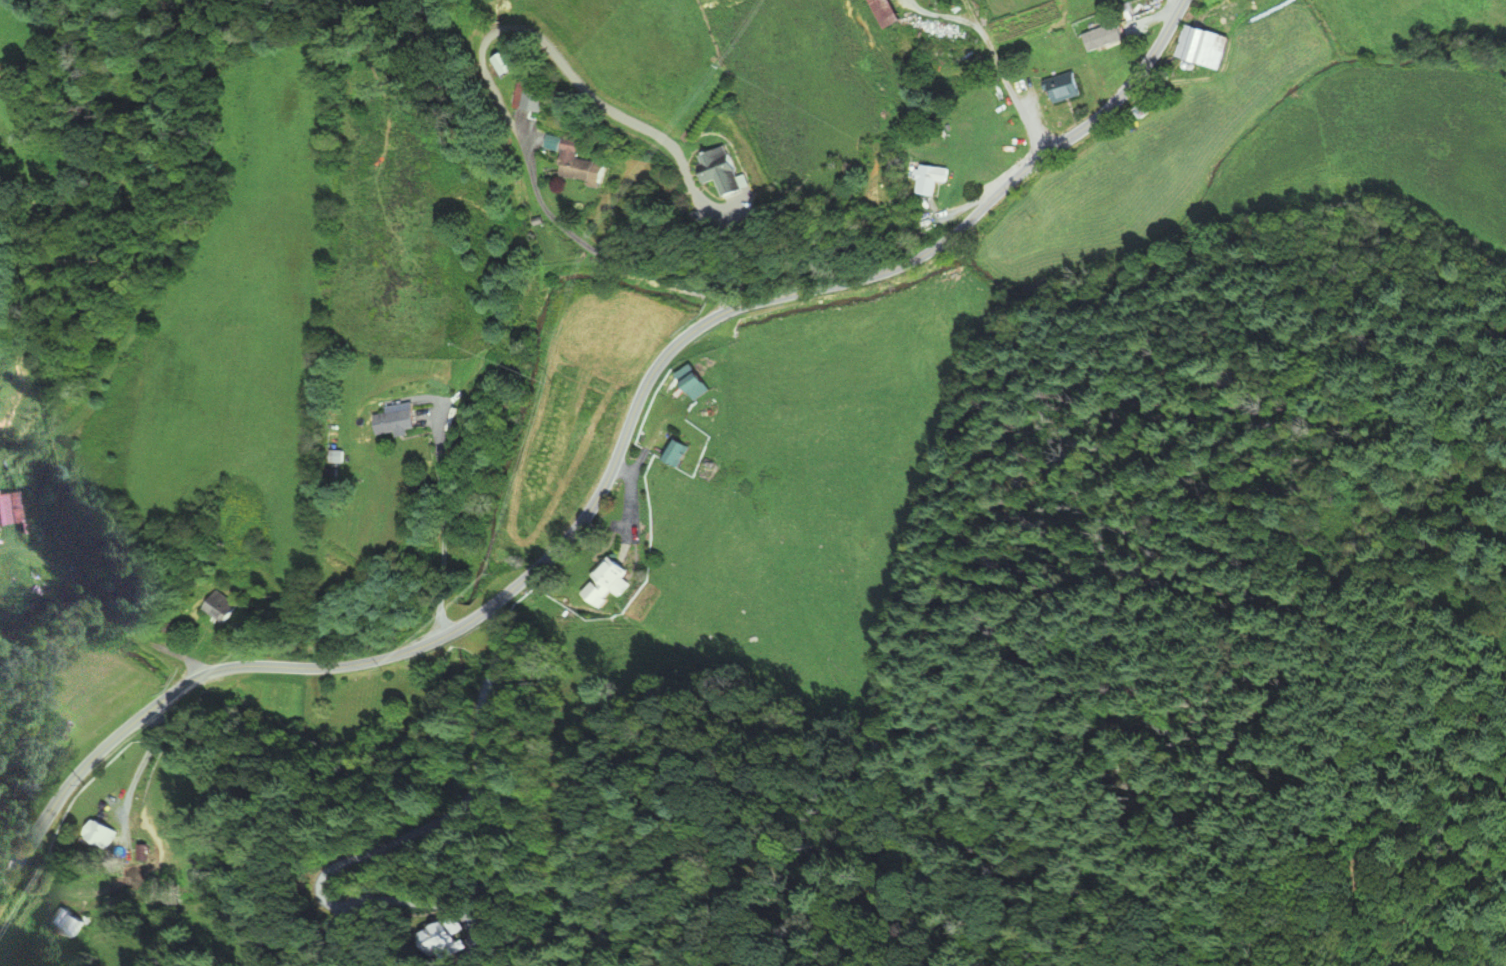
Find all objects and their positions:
road: (1178, 4)
building: (1140, 8)
road: (968, 10)
building: (884, 13)
road: (939, 15)
building: (1111, 42)
building: (1202, 46)
building: (504, 65)
road: (484, 71)
road: (1008, 89)
building: (528, 94)
building: (552, 142)
building: (573, 162)
building: (712, 171)
building: (928, 179)
building: (695, 385)
building: (397, 421)
building: (677, 452)
road: (608, 474)
building: (8, 510)
road: (442, 521)
building: (611, 576)
building: (214, 607)
building: (407, 697)
road: (138, 765)
building: (97, 833)
building: (140, 853)
building: (66, 922)

